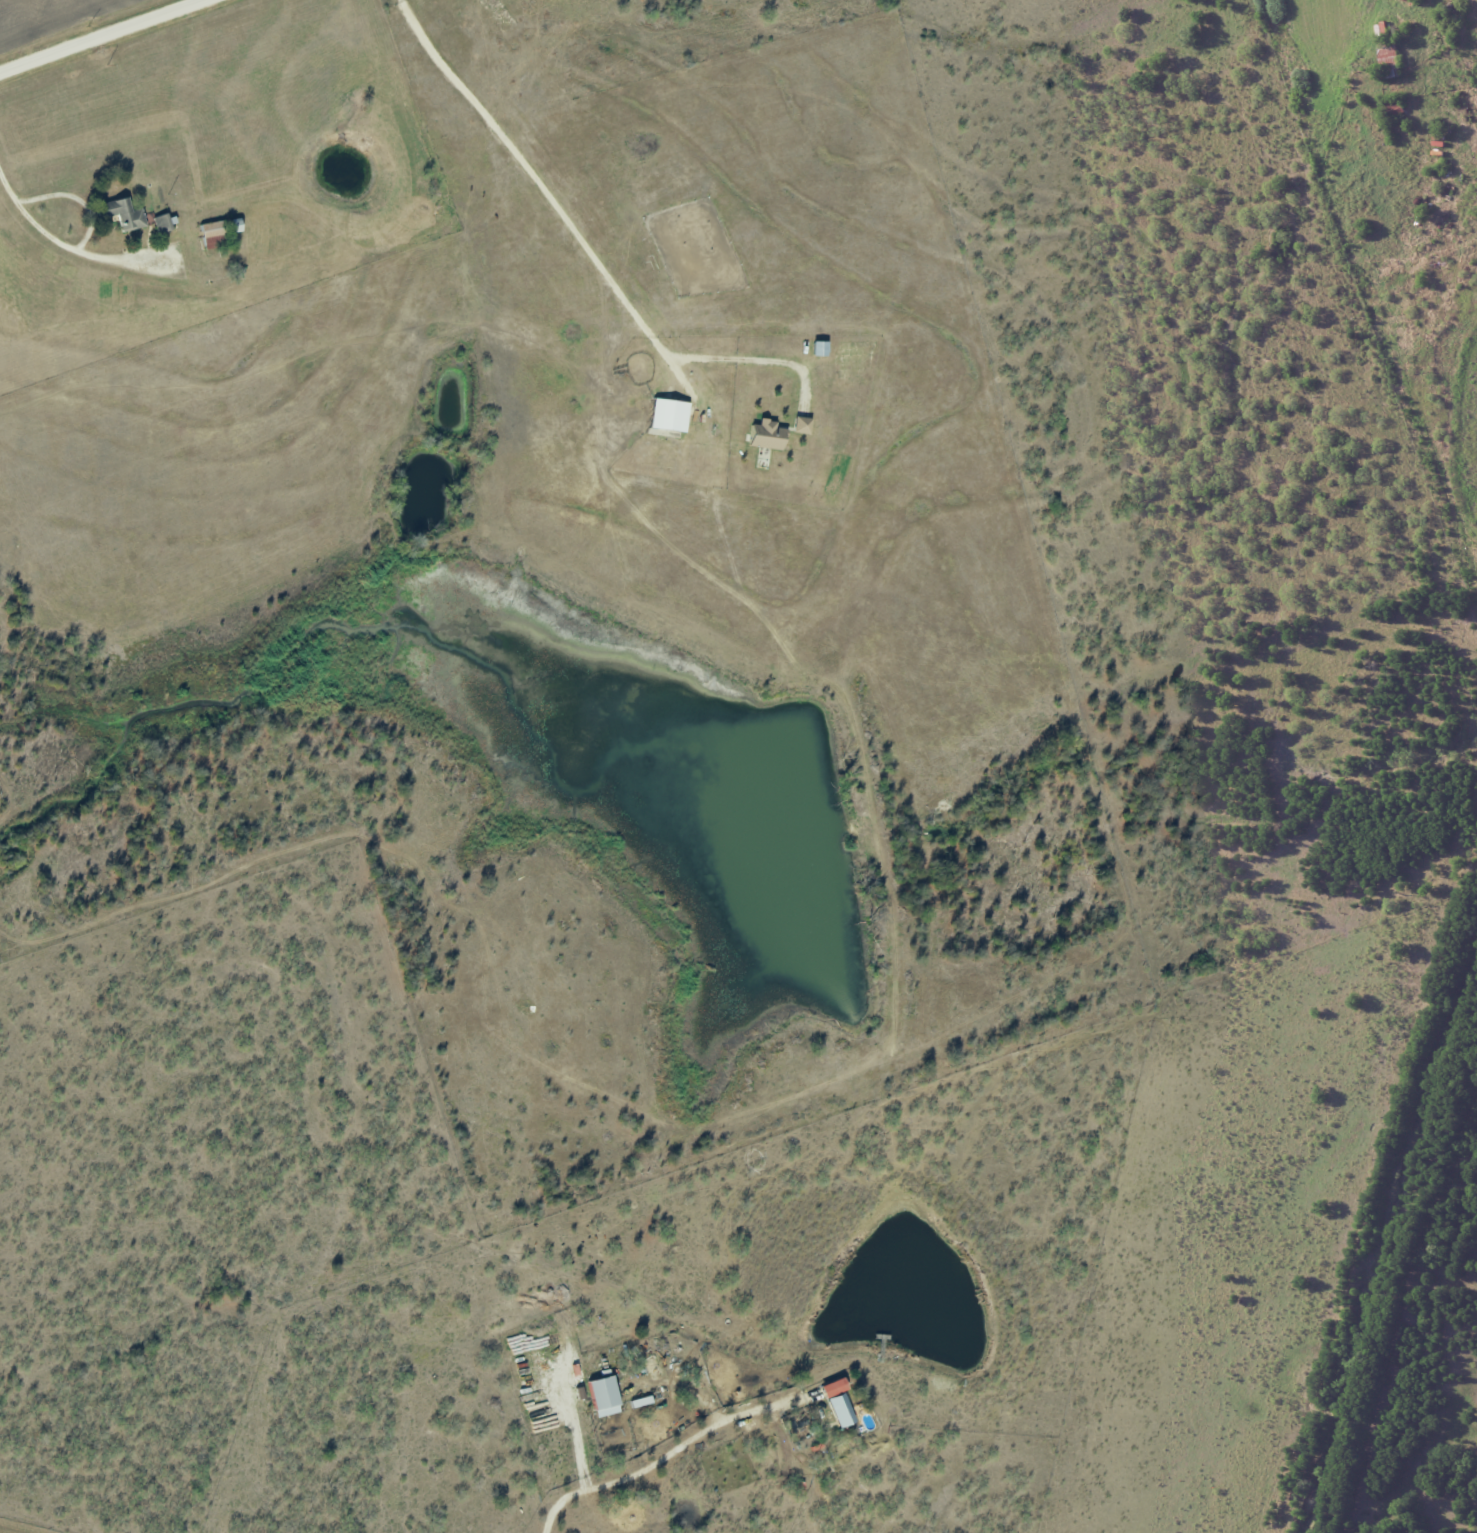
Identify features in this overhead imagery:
road: (101, 36)
road: (83, 195)
building: (125, 213)
building: (163, 223)
road: (570, 227)
road: (47, 228)
building: (214, 234)
building: (820, 348)
building: (670, 415)
building: (803, 425)
building: (768, 435)
building: (835, 1388)
building: (606, 1396)
building: (842, 1410)
road: (663, 1458)

